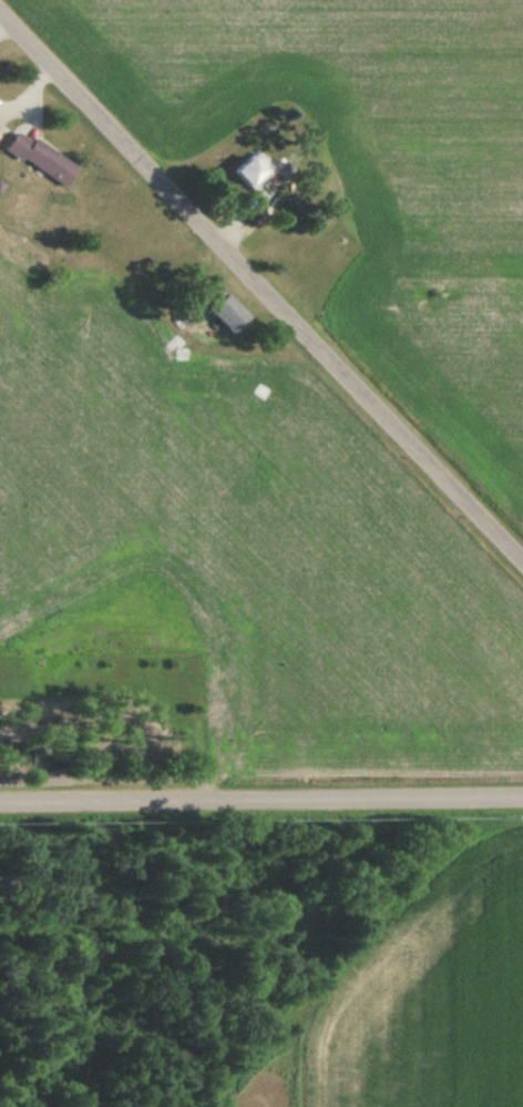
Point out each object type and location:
building: (38, 159)
building: (248, 171)
road: (261, 282)
building: (225, 314)
road: (261, 796)

